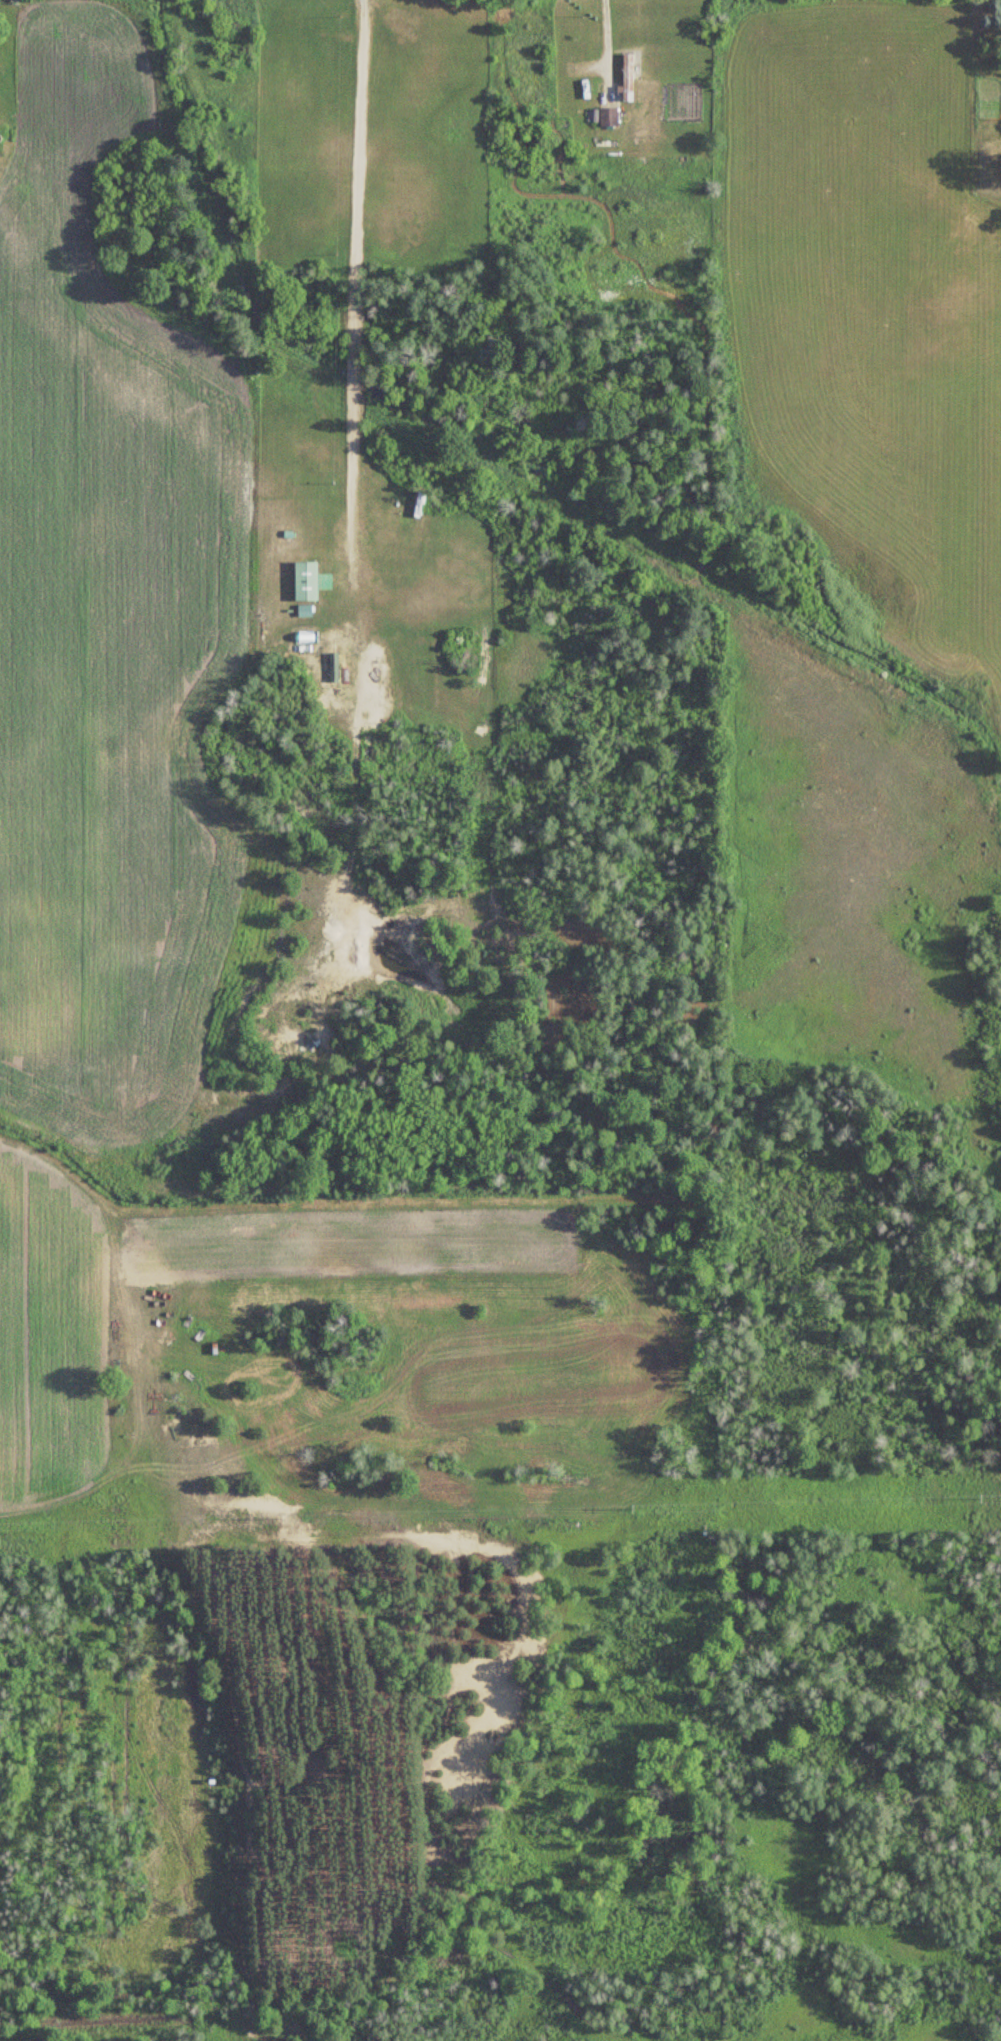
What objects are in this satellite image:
building: (629, 78)
building: (610, 117)
road: (356, 262)
building: (307, 582)

